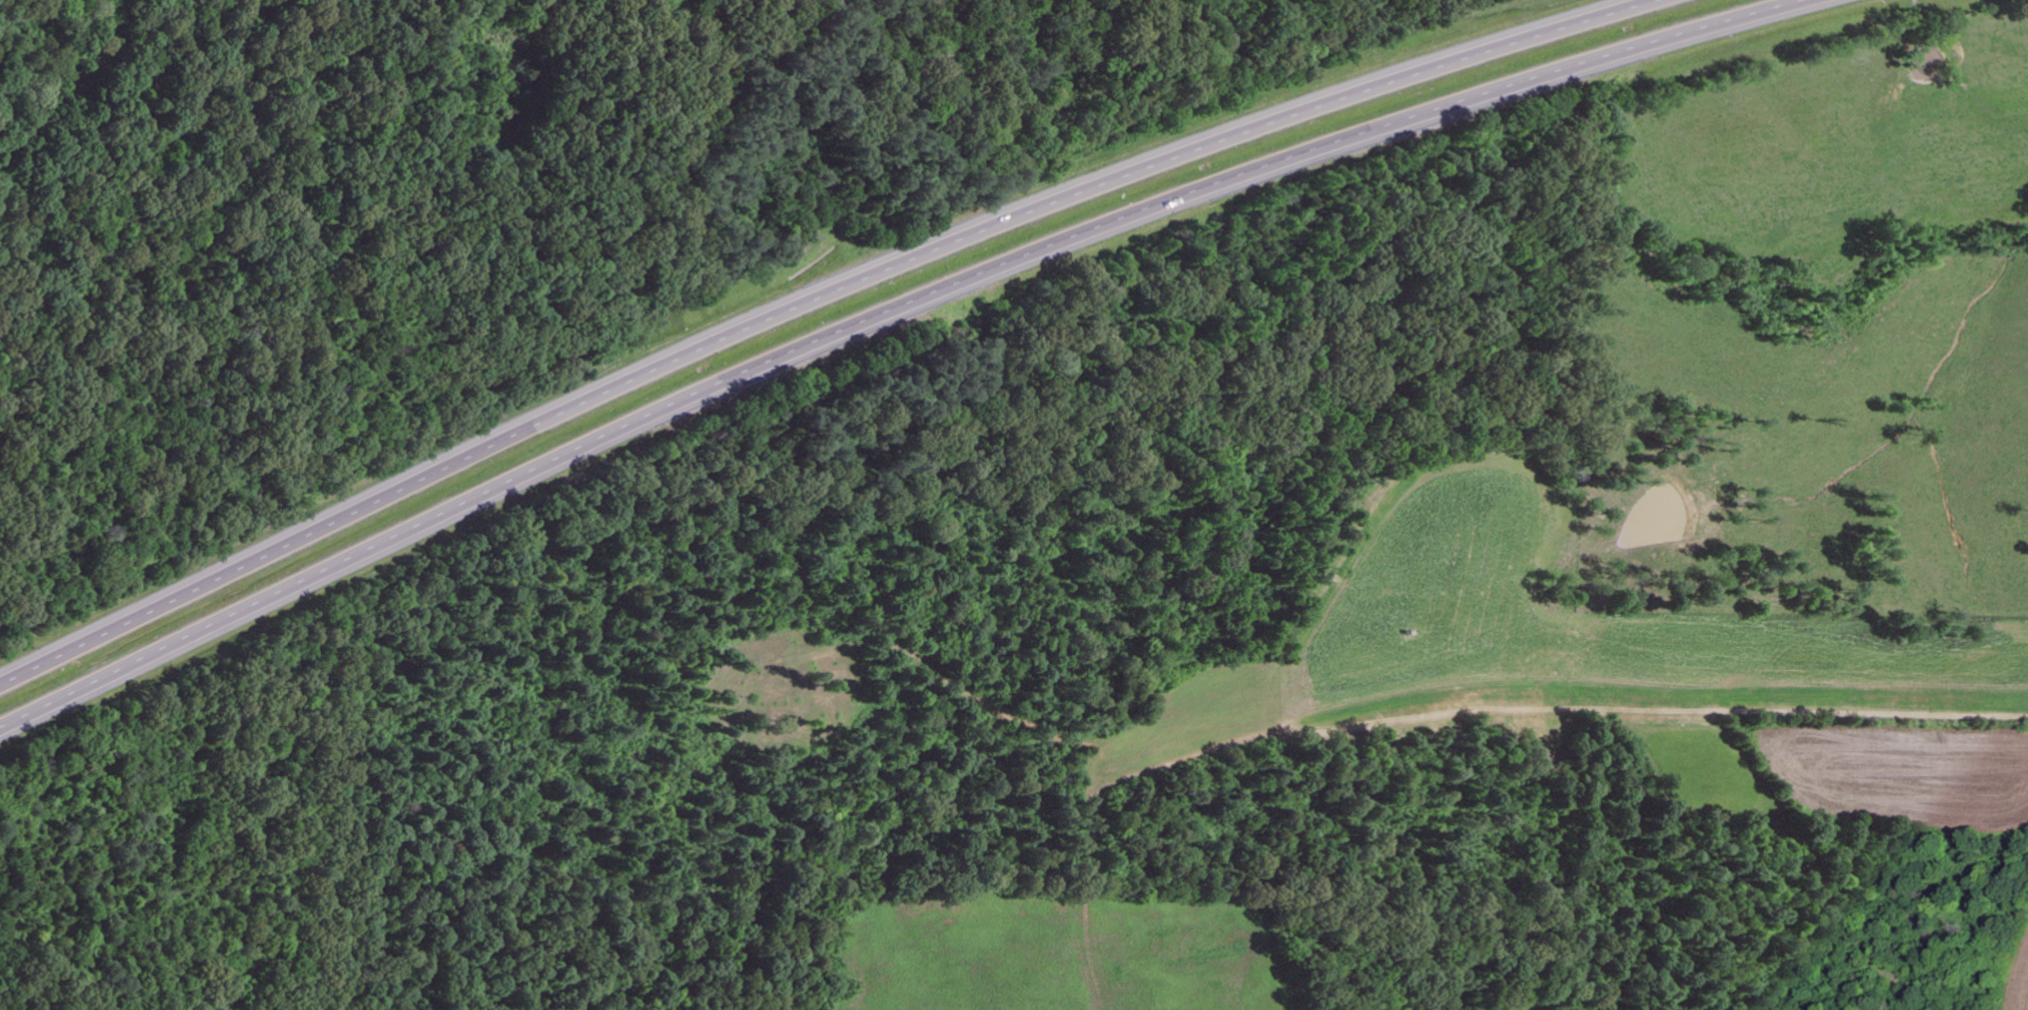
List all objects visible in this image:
road: (803, 299)
road: (885, 313)

